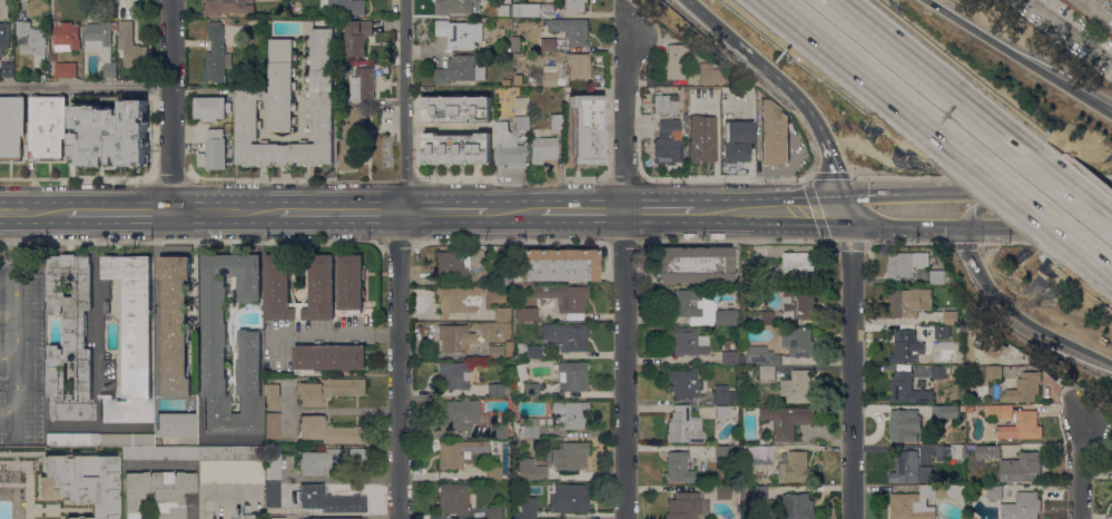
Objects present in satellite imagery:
building: (577, 4)
building: (228, 7)
building: (345, 7)
building: (456, 7)
building: (547, 10)
building: (1095, 12)
building: (545, 22)
building: (572, 30)
road: (1069, 31)
building: (460, 33)
building: (3, 36)
building: (67, 36)
building: (357, 37)
building: (31, 38)
building: (515, 39)
building: (101, 43)
building: (548, 43)
building: (130, 46)
building: (515, 47)
road: (1025, 53)
building: (217, 55)
building: (52, 58)
building: (675, 62)
road: (760, 63)
building: (578, 66)
building: (8, 69)
building: (66, 69)
building: (462, 69)
building: (142, 74)
building: (709, 74)
road: (931, 76)
road: (863, 77)
building: (518, 79)
building: (549, 79)
building: (506, 81)
building: (363, 84)
road: (86, 86)
road: (171, 104)
building: (665, 104)
building: (520, 106)
building: (211, 107)
building: (291, 107)
building: (456, 109)
building: (555, 121)
building: (521, 123)
building: (12, 126)
building: (48, 126)
building: (585, 128)
building: (738, 130)
building: (111, 134)
building: (774, 134)
building: (701, 138)
building: (351, 140)
building: (668, 141)
building: (508, 146)
building: (456, 148)
building: (542, 149)
building: (214, 150)
building: (736, 151)
building: (373, 159)
road: (836, 172)
road: (76, 178)
road: (169, 178)
road: (1067, 187)
road: (978, 192)
road: (1069, 192)
road: (887, 194)
road: (990, 203)
road: (118, 208)
road: (224, 208)
road: (512, 208)
road: (581, 208)
road: (32, 209)
road: (339, 209)
road: (443, 209)
road: (659, 209)
road: (714, 209)
road: (791, 209)
traffic signals: (849, 209)
road: (817, 212)
road: (1032, 212)
road: (886, 226)
road: (1020, 227)
road: (12, 245)
building: (936, 254)
road: (400, 258)
building: (559, 264)
building: (693, 264)
building: (451, 265)
building: (905, 265)
building: (799, 266)
road: (624, 270)
road: (1108, 271)
building: (501, 276)
building: (278, 277)
building: (939, 277)
building: (352, 283)
building: (564, 298)
building: (459, 300)
building: (909, 301)
building: (797, 305)
building: (107, 307)
building: (700, 309)
building: (502, 314)
building: (527, 314)
building: (761, 316)
building: (951, 317)
road: (1018, 317)
road: (14, 322)
building: (176, 324)
building: (942, 331)
road: (386, 334)
road: (323, 335)
building: (567, 335)
building: (70, 337)
building: (454, 339)
building: (132, 340)
road: (97, 341)
building: (687, 341)
building: (799, 342)
building: (216, 344)
building: (907, 347)
building: (495, 352)
building: (533, 352)
building: (728, 354)
building: (760, 355)
building: (328, 358)
road: (849, 364)
building: (730, 368)
building: (765, 371)
building: (939, 371)
building: (521, 372)
building: (991, 372)
building: (454, 374)
building: (572, 376)
building: (683, 383)
building: (506, 388)
building: (798, 388)
building: (1023, 388)
building: (531, 389)
building: (907, 389)
building: (329, 390)
building: (495, 390)
building: (724, 395)
road: (17, 396)
building: (273, 396)
road: (288, 396)
building: (971, 409)
road: (332, 410)
building: (722, 411)
building: (998, 411)
building: (947, 412)
building: (457, 413)
building: (567, 414)
building: (786, 420)
building: (176, 424)
building: (272, 424)
building: (904, 425)
building: (683, 427)
building: (1021, 427)
building: (530, 428)
building: (328, 431)
building: (499, 431)
building: (992, 433)
building: (72, 438)
building: (126, 438)
building: (972, 447)
building: (744, 449)
building: (457, 451)
building: (951, 451)
building: (987, 451)
building: (160, 452)
building: (230, 452)
building: (724, 452)
building: (760, 454)
building: (570, 456)
building: (328, 459)
building: (273, 466)
building: (678, 467)
building: (1021, 467)
road: (1080, 467)
building: (796, 468)
building: (911, 468)
building: (530, 469)
building: (230, 472)
building: (493, 472)
building: (759, 474)
building: (81, 483)
building: (516, 490)
building: (759, 491)
building: (993, 491)
building: (158, 492)
building: (724, 492)
building: (273, 493)
building: (453, 498)
building: (568, 498)
building: (328, 500)
building: (922, 501)
building: (685, 506)
building: (1023, 506)
building: (796, 507)
building: (528, 508)
building: (247, 512)
building: (493, 512)
building: (278, 518)
building: (336, 518)

